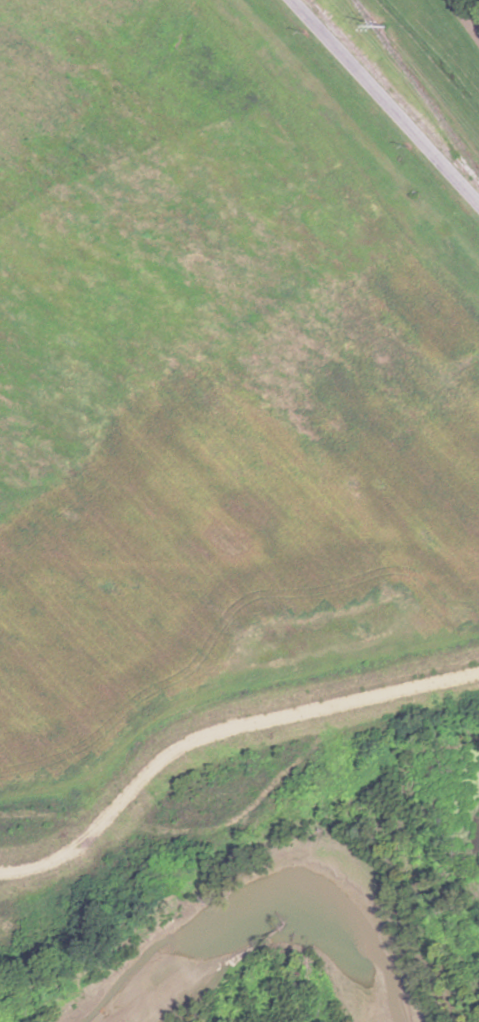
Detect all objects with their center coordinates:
road: (467, 16)
power tower: (375, 18)
railway: (416, 86)
railway: (393, 92)
road: (386, 101)
road: (252, 804)
river: (280, 881)

